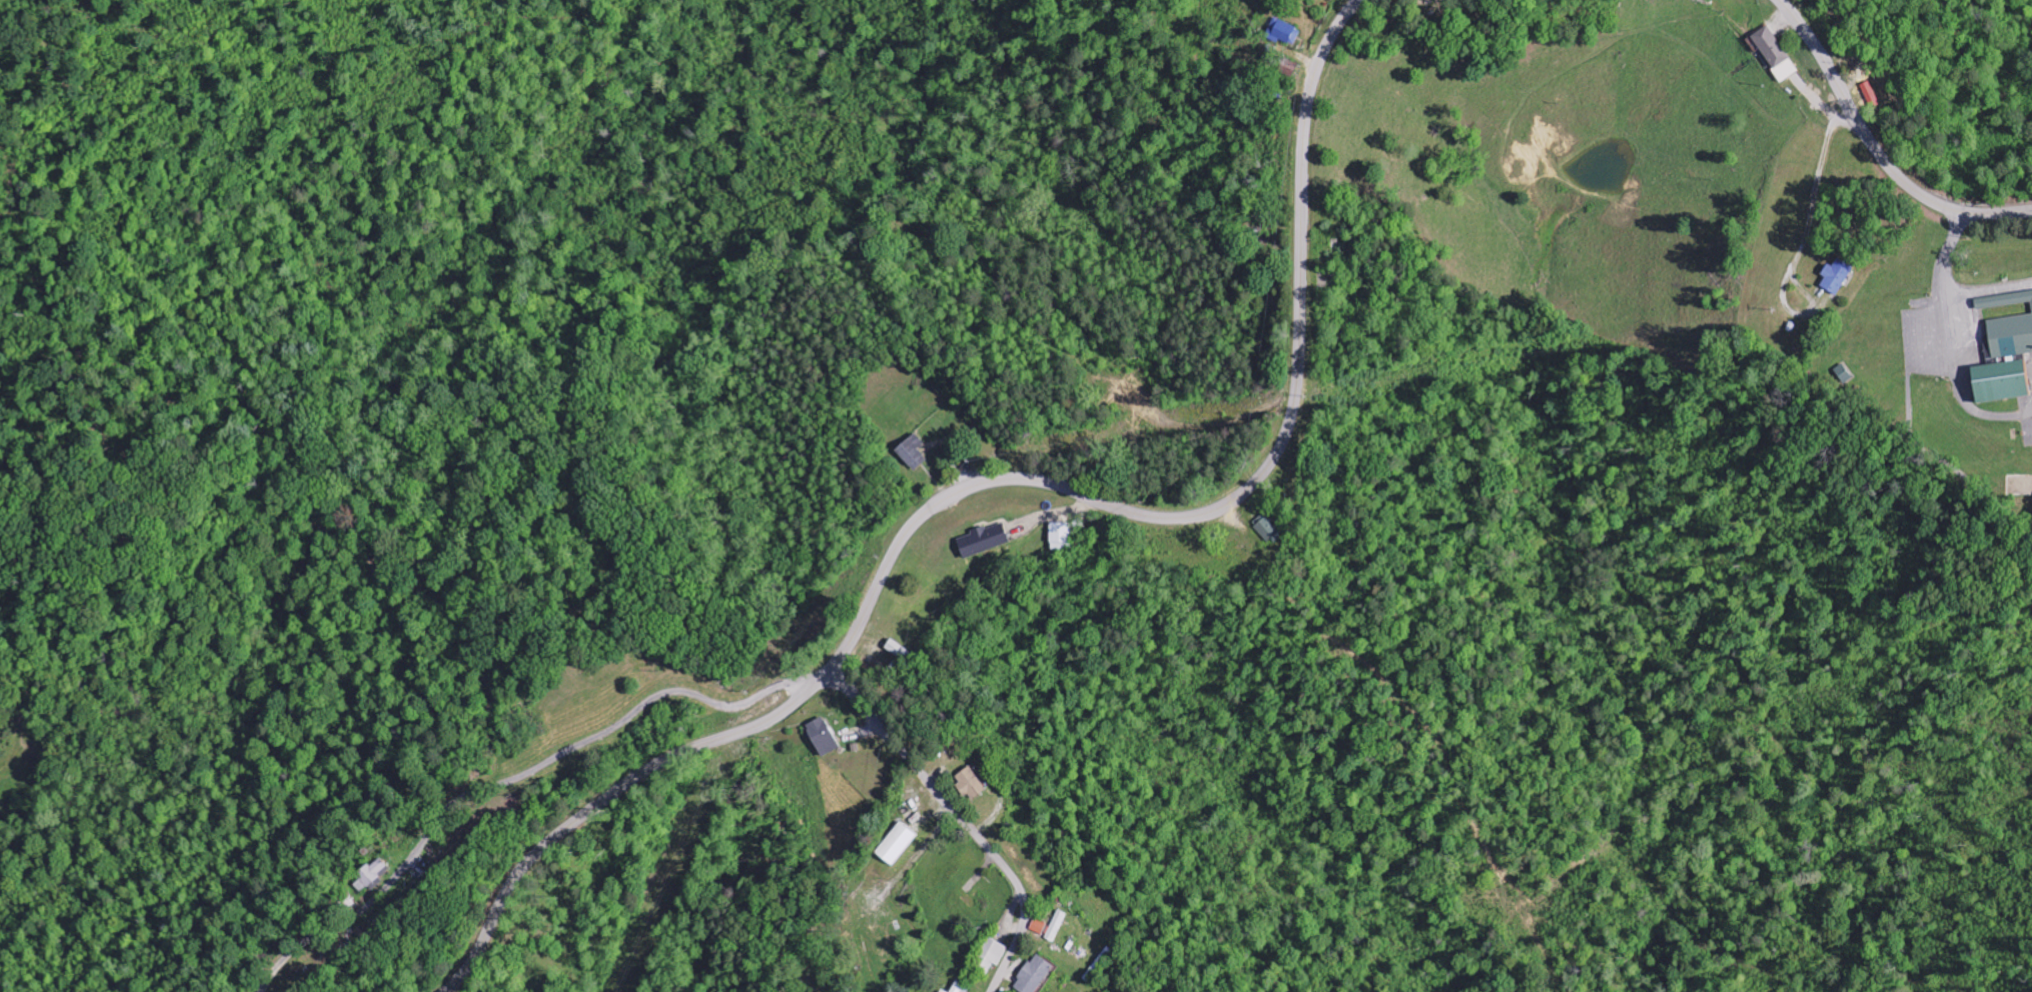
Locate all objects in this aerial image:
building: (1284, 33)
building: (1775, 54)
road: (1877, 149)
building: (1837, 277)
road: (1990, 288)
building: (2004, 301)
road: (1909, 342)
road: (1954, 342)
park: (1950, 353)
building: (2006, 362)
building: (1845, 374)
building: (914, 453)
road: (1940, 459)
road: (998, 482)
building: (1270, 530)
building: (1062, 537)
building: (984, 541)
building: (825, 738)
road: (516, 781)
building: (971, 785)
road: (961, 819)
building: (897, 845)
building: (371, 877)
building: (1050, 928)
building: (990, 957)
building: (1035, 976)
building: (960, 989)
building: (941, 991)

